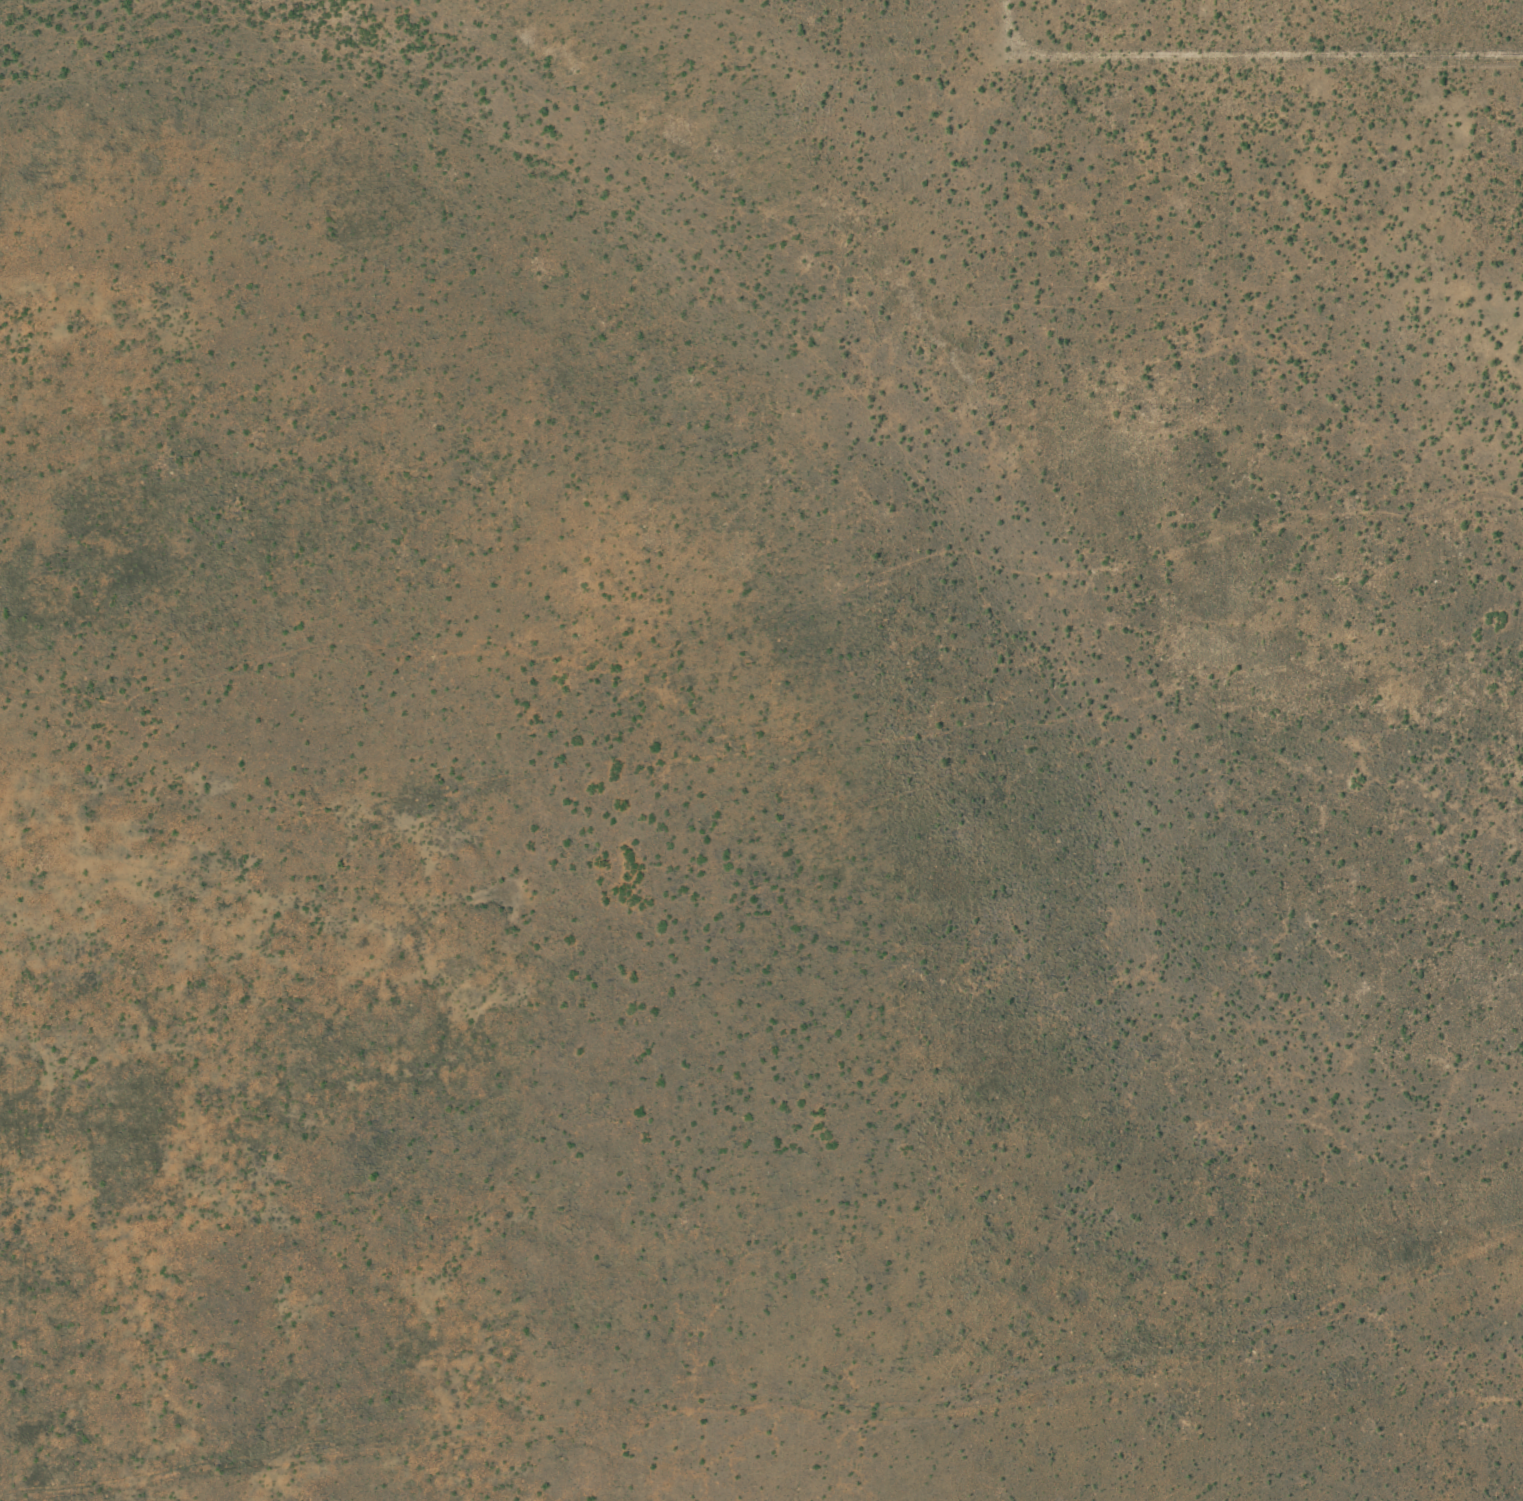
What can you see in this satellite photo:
road: (1259, 23)
river: (997, 522)
road: (538, 615)

